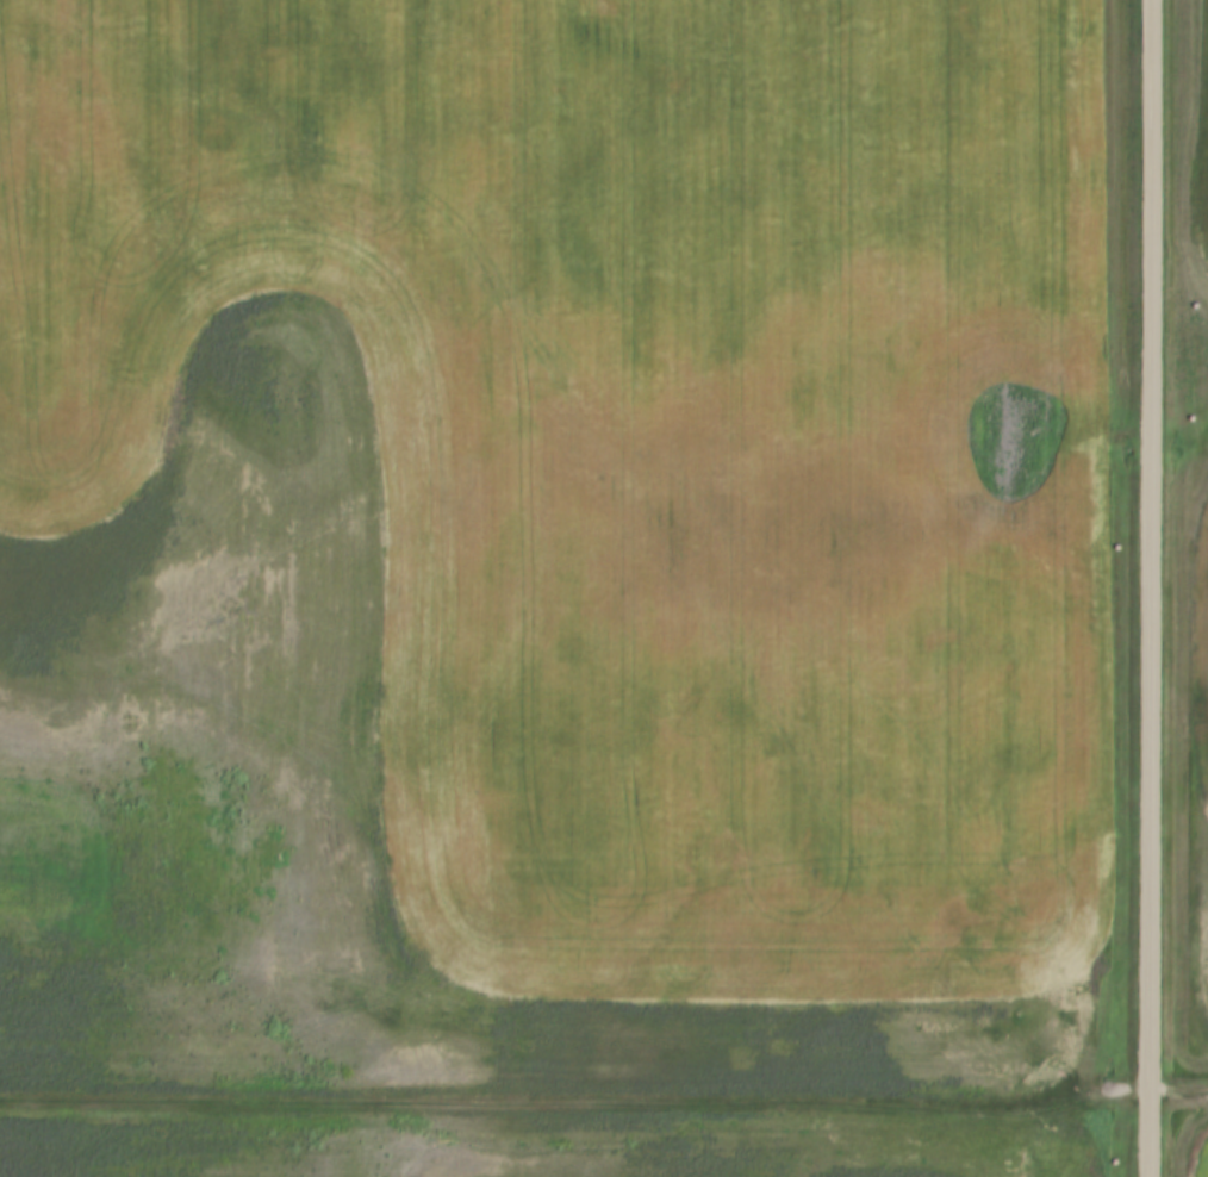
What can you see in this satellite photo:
road: (1147, 587)
road: (604, 1098)

